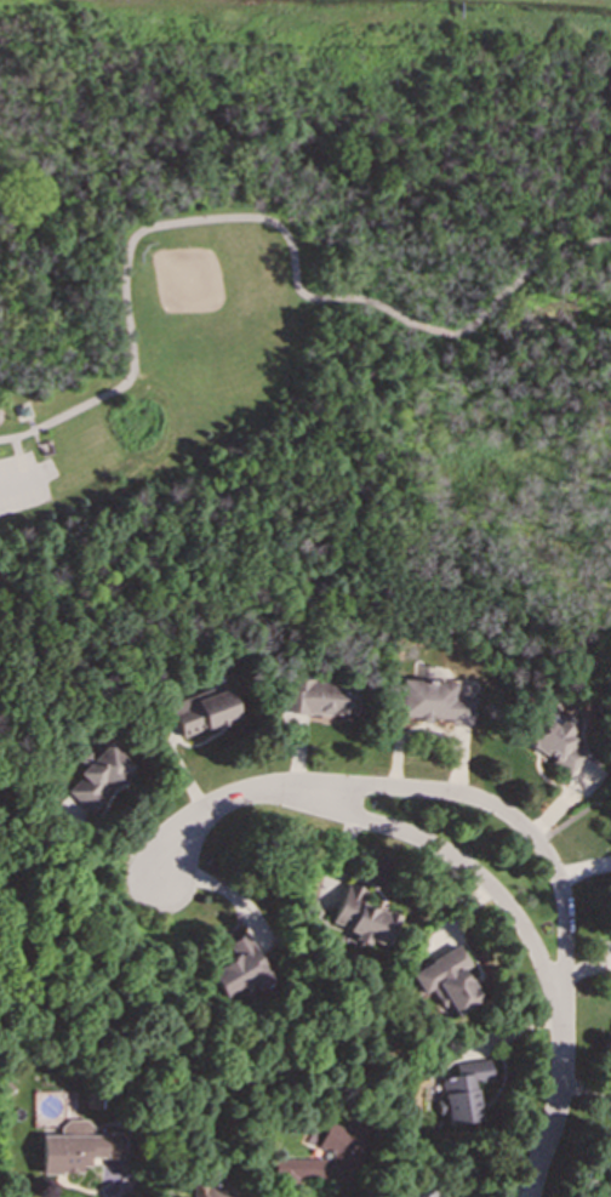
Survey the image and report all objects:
road: (273, 222)
park: (210, 308)
park: (304, 320)
road: (30, 423)
road: (35, 439)
building: (47, 448)
road: (19, 458)
road: (23, 480)
parking lot: (24, 481)
building: (316, 697)
building: (436, 701)
building: (201, 709)
building: (553, 743)
building: (97, 775)
road: (217, 806)
road: (506, 816)
road: (571, 816)
road: (461, 865)
building: (362, 917)
building: (239, 968)
building: (447, 981)
building: (463, 1093)
road: (558, 1104)
building: (75, 1148)
building: (322, 1158)
road: (120, 1186)
building: (212, 1190)
road: (262, 1190)
building: (421, 1193)

